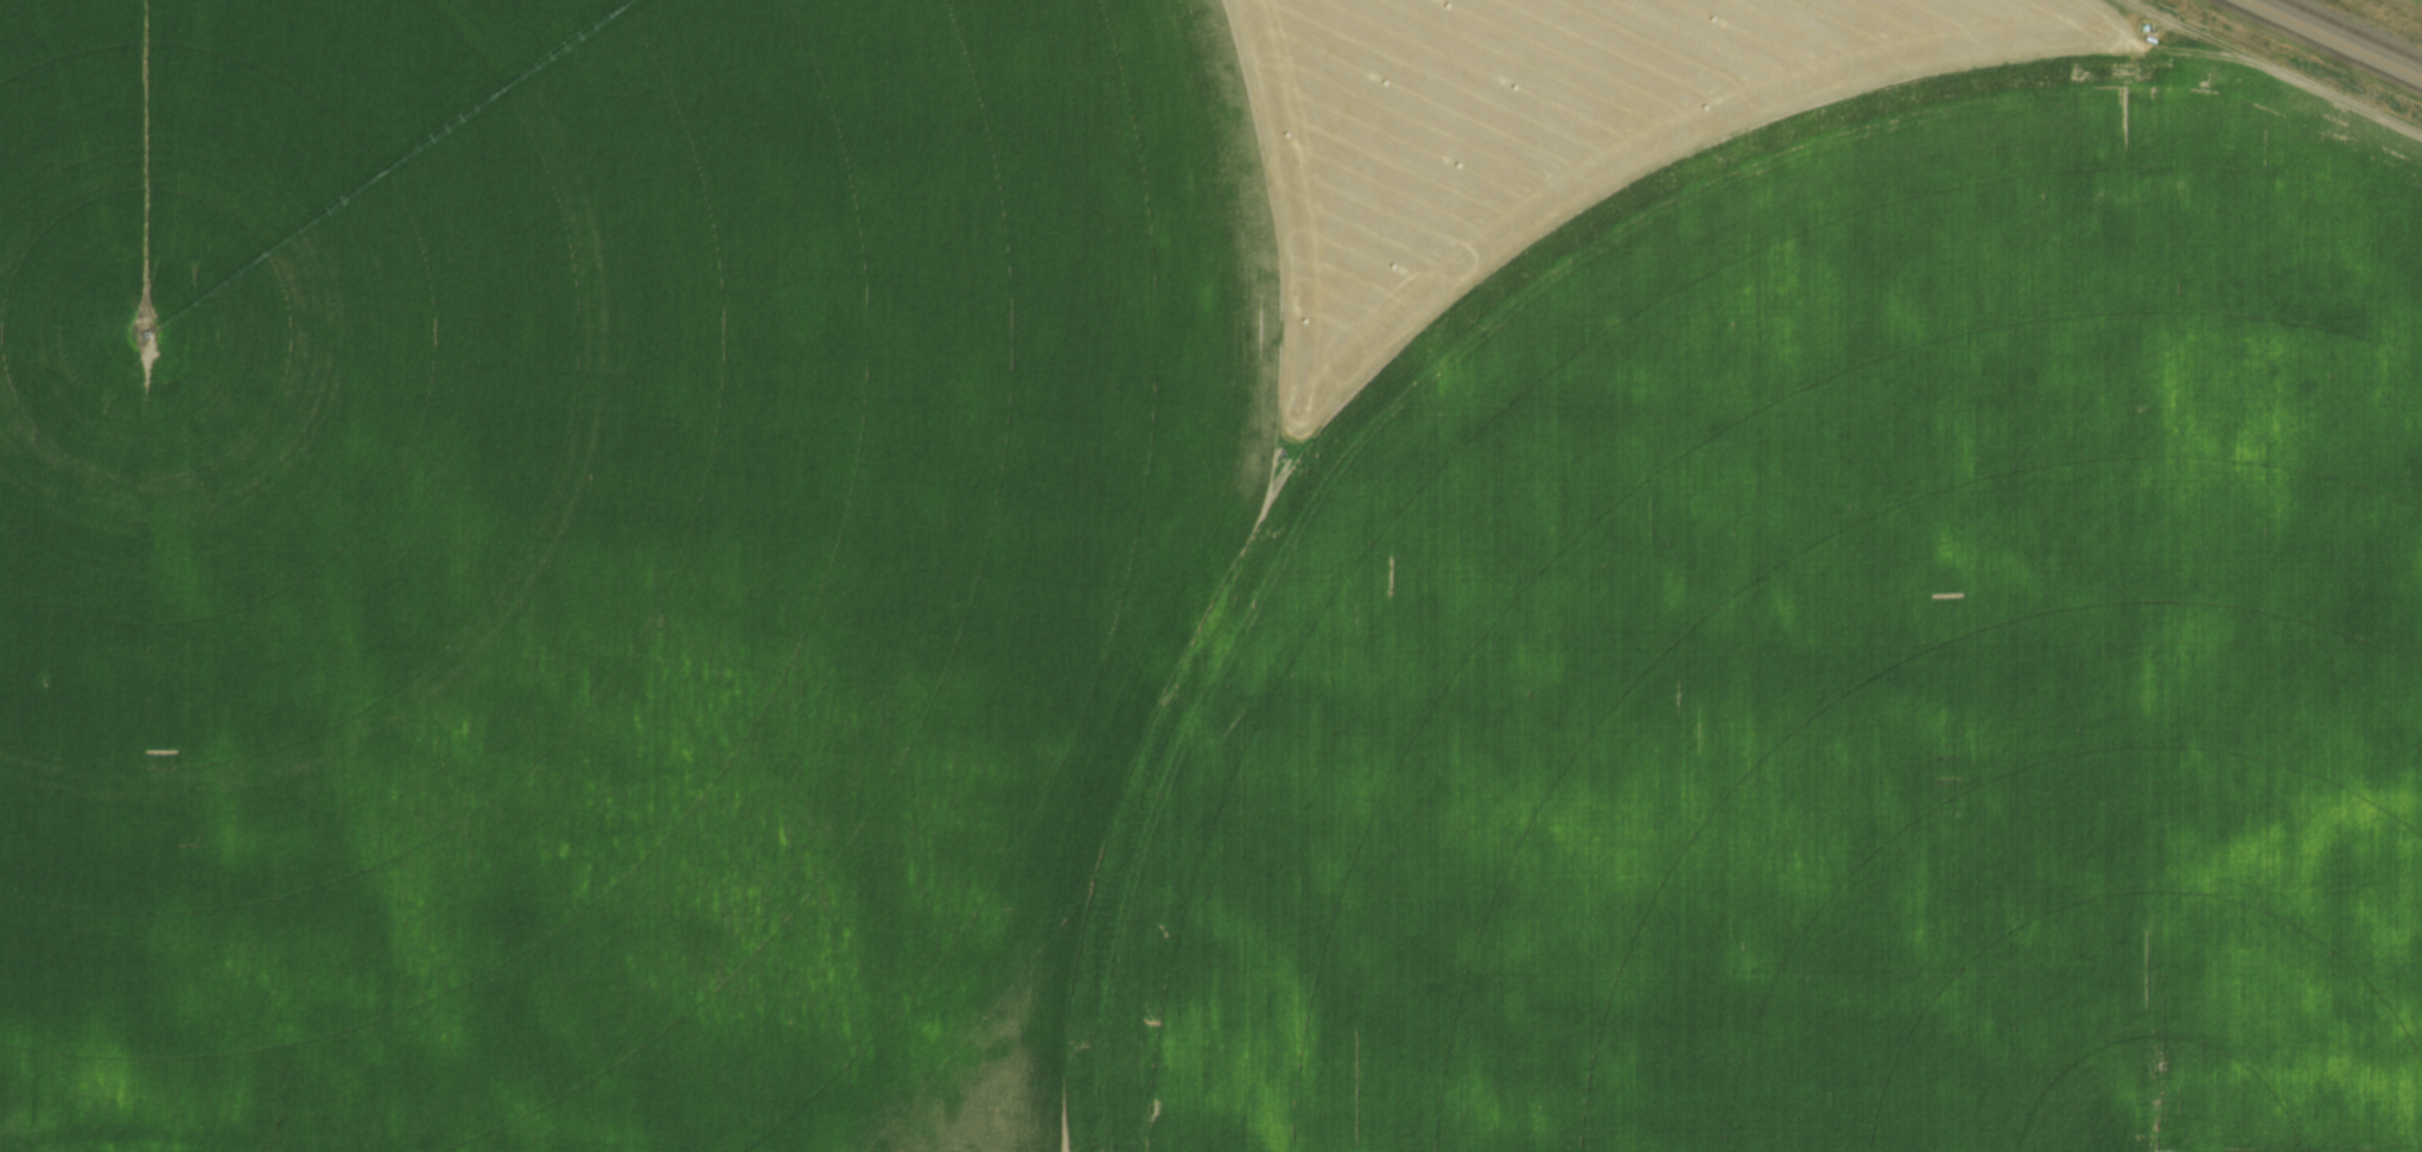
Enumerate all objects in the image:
railway: (2357, 28)
railway: (2335, 38)

